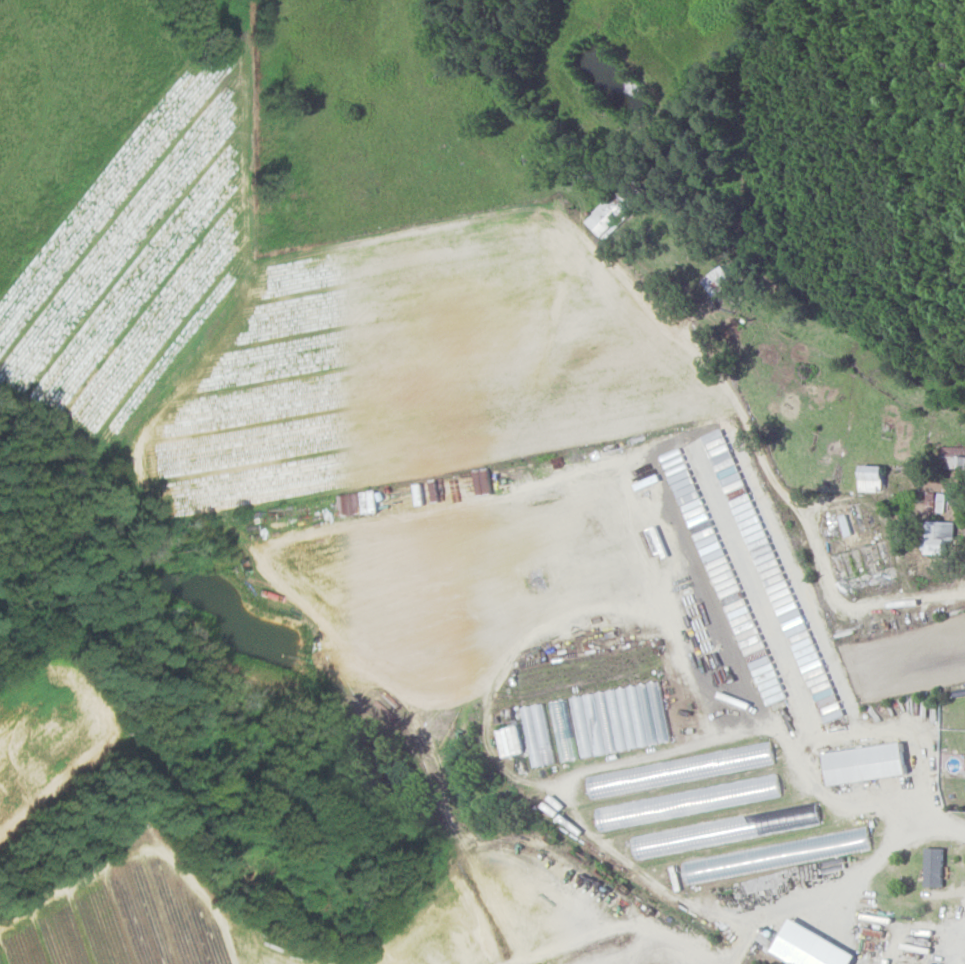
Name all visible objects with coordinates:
building: (605, 215)
building: (717, 281)
building: (953, 457)
building: (680, 476)
building: (871, 478)
building: (939, 536)
building: (620, 718)
building: (562, 729)
building: (536, 734)
building: (509, 740)
building: (865, 762)
building: (687, 802)
building: (861, 840)
building: (934, 866)
building: (809, 946)

